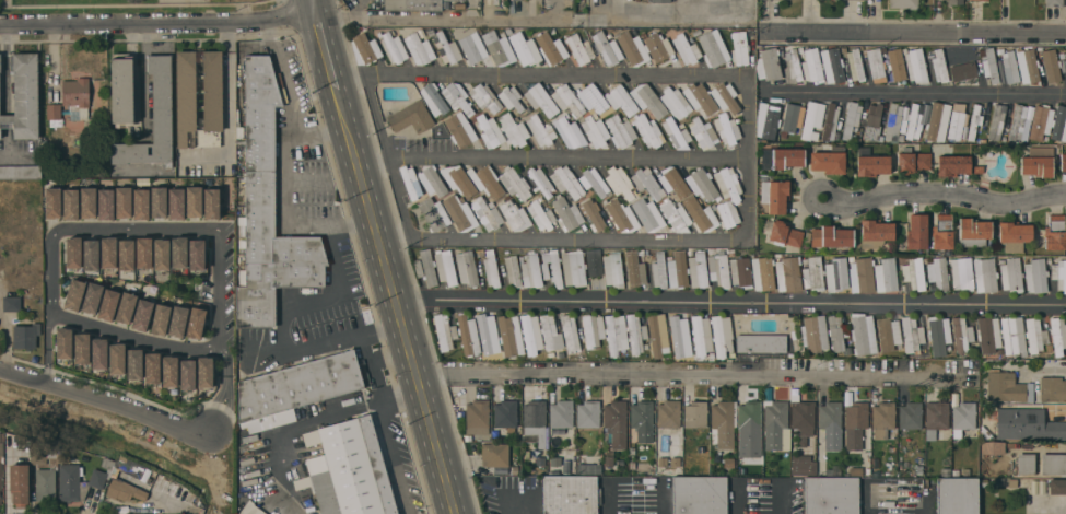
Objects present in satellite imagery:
park: (75, 0)
building: (448, 0)
building: (979, 0)
building: (660, 1)
building: (954, 2)
building: (903, 3)
building: (1054, 3)
building: (412, 4)
road: (309, 5)
road: (358, 12)
road: (914, 33)
road: (320, 44)
building: (713, 47)
building: (739, 47)
building: (394, 48)
building: (446, 48)
building: (473, 48)
building: (499, 48)
building: (551, 48)
building: (606, 48)
building: (659, 48)
building: (364, 49)
building: (419, 49)
building: (526, 49)
building: (579, 49)
building: (633, 49)
building: (686, 49)
building: (1065, 61)
building: (895, 63)
building: (769, 65)
building: (811, 65)
building: (832, 65)
building: (855, 65)
building: (938, 65)
building: (794, 66)
building: (876, 66)
building: (915, 66)
building: (989, 66)
building: (1010, 66)
building: (1027, 66)
building: (1051, 66)
building: (963, 71)
road: (537, 77)
road: (283, 78)
road: (332, 83)
building: (121, 91)
road: (917, 92)
building: (75, 93)
building: (23, 97)
building: (459, 97)
building: (484, 97)
building: (513, 97)
building: (700, 97)
building: (725, 97)
building: (198, 98)
building: (434, 100)
building: (540, 100)
building: (567, 100)
building: (596, 100)
building: (621, 100)
building: (647, 100)
building: (675, 102)
road: (340, 108)
road: (230, 110)
building: (54, 115)
building: (411, 117)
building: (792, 118)
building: (153, 119)
building: (852, 119)
building: (768, 120)
building: (811, 120)
building: (894, 120)
building: (957, 120)
building: (831, 121)
building: (937, 121)
building: (974, 121)
building: (1041, 121)
building: (874, 122)
building: (914, 122)
building: (996, 122)
building: (1019, 124)
building: (1059, 124)
building: (727, 128)
building: (460, 129)
building: (513, 129)
building: (646, 129)
building: (540, 130)
building: (593, 130)
road: (323, 131)
building: (620, 131)
building: (490, 132)
building: (570, 132)
building: (676, 133)
building: (703, 133)
building: (44, 140)
road: (349, 140)
building: (44, 145)
road: (551, 155)
building: (781, 157)
road: (748, 159)
building: (829, 160)
building: (912, 161)
building: (1038, 161)
building: (1063, 162)
building: (870, 163)
building: (952, 165)
building: (20, 172)
building: (432, 180)
building: (458, 180)
building: (540, 182)
building: (566, 182)
building: (594, 182)
building: (672, 182)
building: (410, 183)
building: (488, 183)
building: (514, 183)
building: (620, 183)
building: (647, 183)
building: (702, 184)
building: (728, 184)
building: (775, 195)
road: (284, 196)
road: (945, 196)
building: (122, 201)
building: (159, 201)
building: (192, 201)
building: (51, 202)
building: (87, 202)
building: (211, 202)
building: (70, 203)
building: (106, 203)
building: (141, 203)
building: (176, 203)
building: (267, 211)
building: (460, 213)
building: (487, 213)
building: (566, 213)
building: (433, 214)
building: (647, 214)
building: (701, 214)
building: (727, 214)
building: (515, 215)
building: (540, 215)
building: (591, 215)
building: (622, 215)
building: (676, 215)
road: (59, 231)
building: (917, 232)
building: (942, 232)
building: (973, 232)
building: (1055, 232)
building: (784, 233)
building: (875, 233)
building: (1014, 235)
building: (832, 236)
road: (563, 241)
building: (179, 252)
building: (73, 253)
building: (108, 253)
building: (143, 253)
building: (126, 254)
building: (161, 254)
building: (91, 255)
building: (197, 255)
building: (594, 261)
building: (427, 267)
building: (445, 267)
building: (551, 267)
building: (573, 267)
building: (418, 268)
building: (466, 268)
building: (490, 268)
building: (612, 269)
building: (718, 269)
building: (513, 270)
building: (634, 270)
building: (659, 270)
building: (677, 270)
building: (698, 270)
building: (530, 271)
building: (740, 272)
building: (766, 272)
building: (835, 272)
building: (938, 272)
building: (787, 273)
building: (812, 273)
building: (914, 273)
building: (961, 273)
building: (1010, 273)
building: (1059, 273)
building: (862, 274)
building: (886, 274)
building: (985, 274)
building: (1035, 276)
road: (218, 288)
building: (74, 293)
building: (92, 297)
road: (731, 302)
building: (11, 304)
building: (108, 304)
road: (289, 305)
building: (126, 307)
building: (142, 315)
building: (160, 318)
building: (178, 320)
building: (195, 323)
building: (593, 330)
building: (444, 331)
building: (550, 332)
building: (677, 332)
building: (836, 332)
road: (407, 334)
building: (485, 334)
building: (530, 334)
building: (570, 334)
building: (614, 334)
building: (635, 334)
building: (815, 334)
building: (863, 334)
building: (888, 334)
building: (912, 334)
building: (961, 334)
building: (988, 334)
building: (468, 335)
building: (657, 335)
building: (701, 335)
building: (722, 335)
building: (938, 335)
building: (1035, 335)
building: (1058, 335)
building: (25, 336)
building: (509, 336)
building: (1012, 336)
road: (132, 341)
building: (63, 343)
building: (761, 343)
building: (81, 348)
building: (98, 353)
building: (117, 359)
building: (133, 363)
road: (223, 366)
building: (152, 367)
building: (169, 371)
road: (1046, 371)
building: (204, 373)
road: (691, 373)
building: (187, 374)
building: (1006, 385)
building: (297, 386)
building: (1052, 389)
road: (393, 393)
road: (108, 404)
road: (211, 407)
road: (222, 410)
building: (587, 413)
building: (668, 413)
building: (694, 414)
building: (749, 414)
building: (910, 414)
road: (1059, 416)
building: (477, 417)
building: (505, 417)
building: (562, 417)
building: (801, 417)
building: (963, 417)
building: (535, 418)
building: (935, 418)
building: (882, 419)
building: (641, 420)
building: (270, 421)
building: (613, 421)
building: (774, 423)
building: (855, 423)
building: (723, 424)
building: (830, 424)
building: (1027, 424)
road: (281, 433)
building: (1, 440)
building: (993, 447)
building: (42, 454)
road: (393, 455)
building: (494, 455)
building: (1026, 463)
building: (1053, 464)
building: (562, 465)
building: (803, 465)
building: (587, 466)
building: (718, 467)
building: (130, 468)
building: (890, 468)
building: (348, 469)
building: (69, 480)
building: (0, 482)
building: (19, 483)
building: (1012, 483)
building: (45, 484)
building: (1056, 486)
building: (124, 490)
building: (570, 494)
building: (700, 494)
building: (831, 495)
building: (957, 495)
building: (249, 509)
road: (1045, 511)

